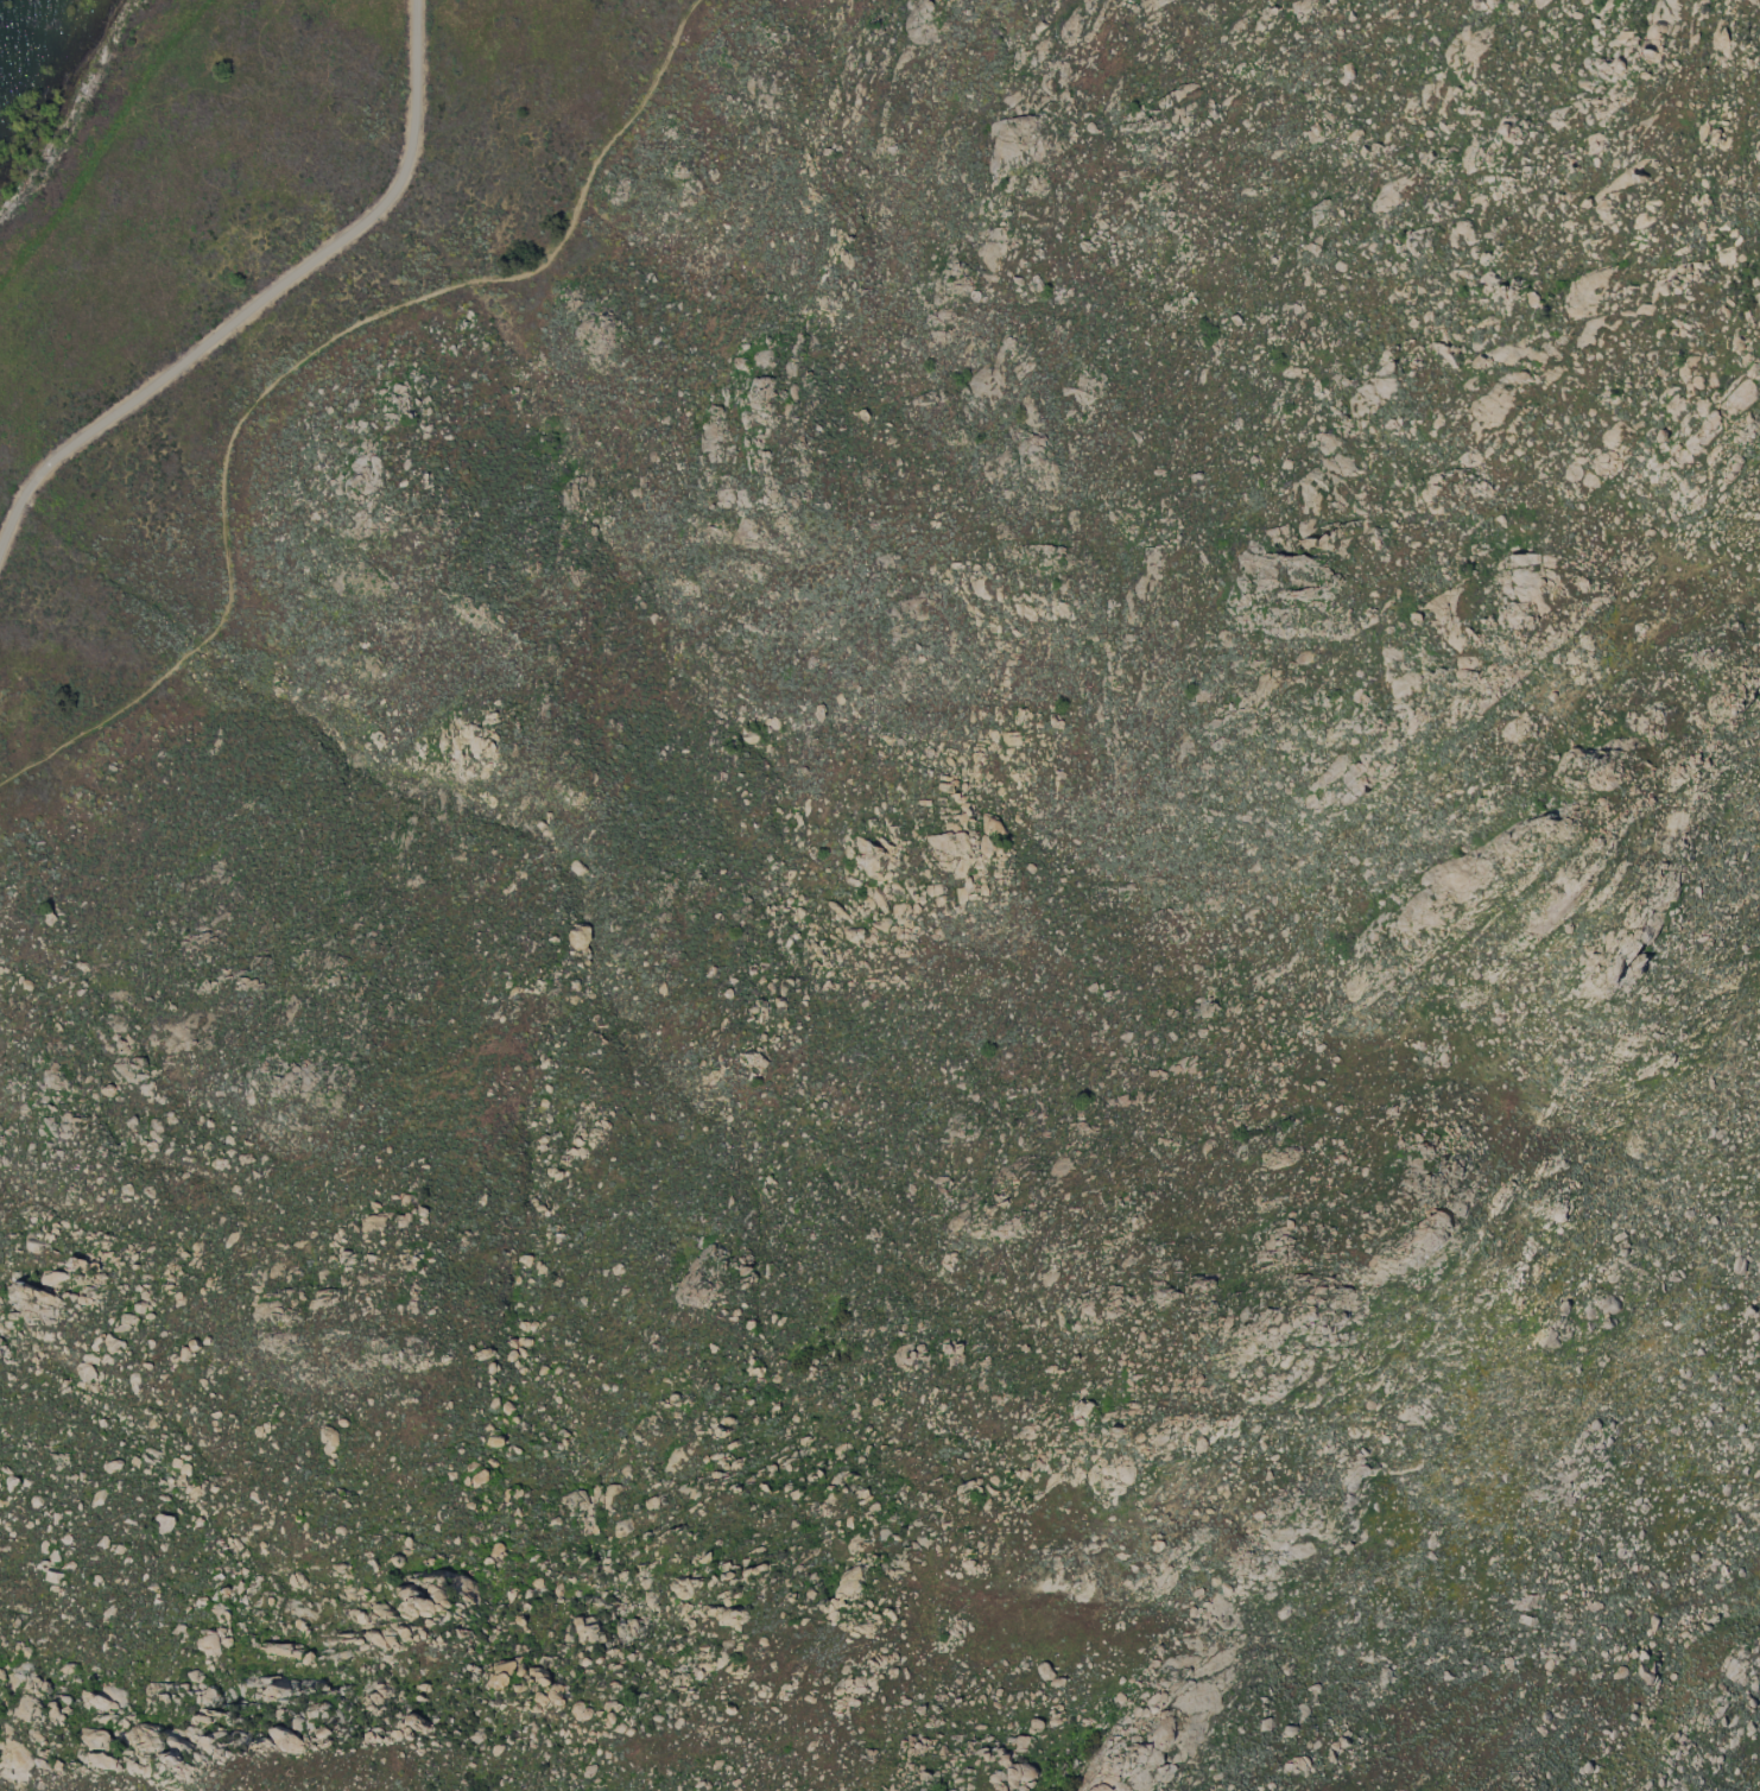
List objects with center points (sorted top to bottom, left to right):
road: (261, 300)
road: (304, 360)

